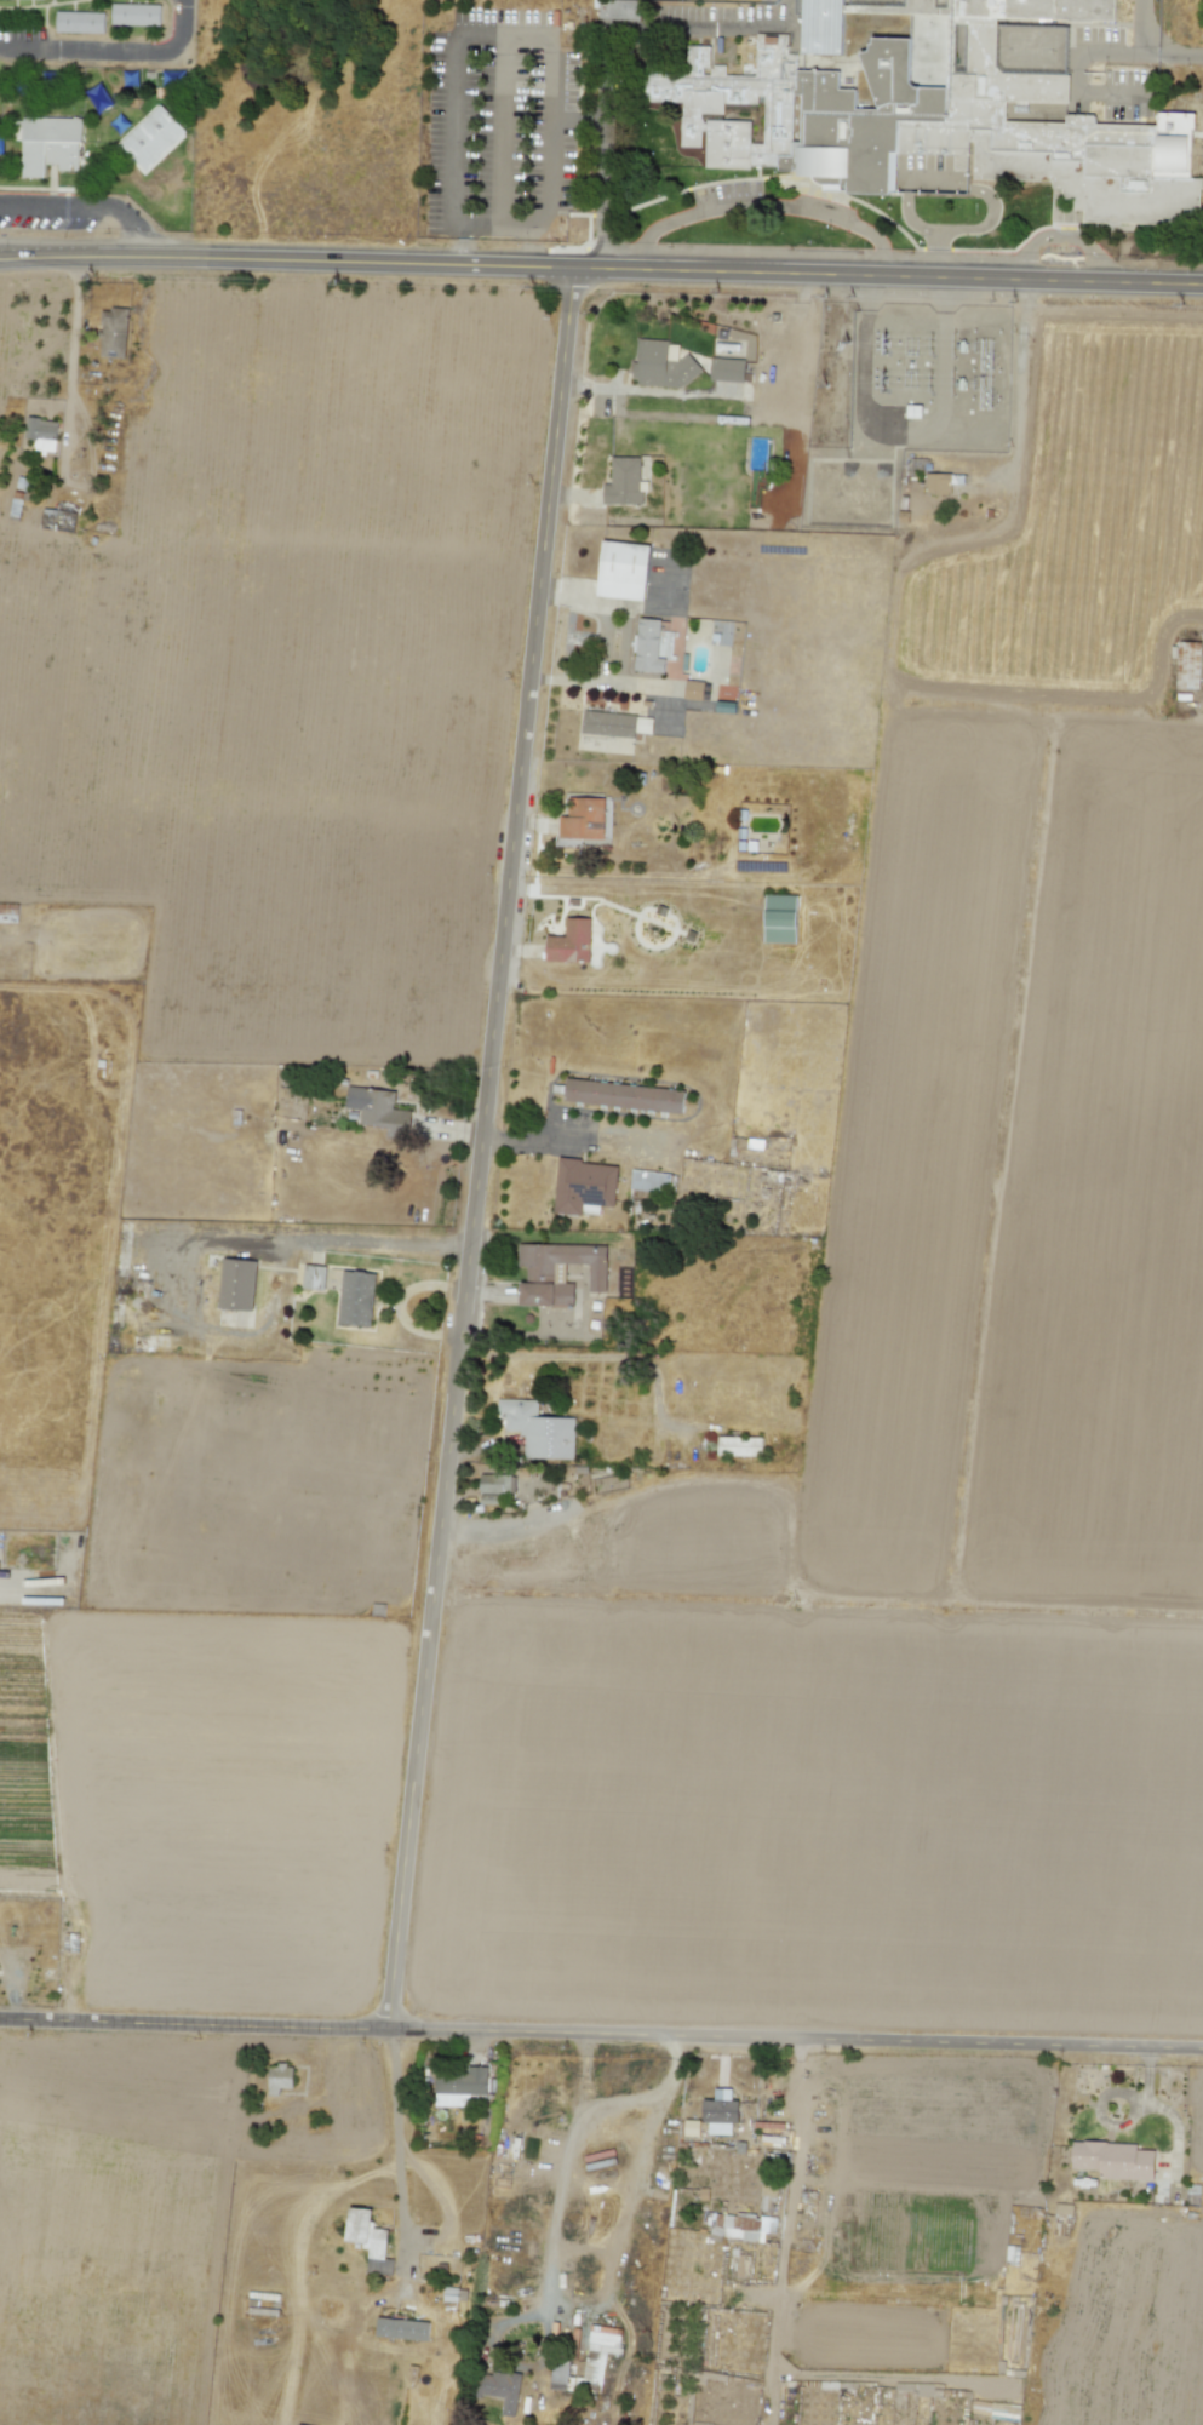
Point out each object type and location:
building: (136, 15)
building: (80, 22)
road: (1139, 28)
road: (115, 51)
road: (1179, 51)
building: (953, 114)
building: (153, 137)
building: (50, 144)
road: (761, 205)
road: (86, 206)
road: (1058, 237)
road: (28, 252)
road: (28, 258)
road: (630, 269)
building: (113, 332)
road: (73, 345)
building: (661, 365)
building: (727, 369)
road: (729, 394)
building: (41, 434)
building: (623, 481)
building: (938, 483)
building: (57, 520)
building: (623, 569)
crop: (282, 629)
road: (605, 646)
building: (651, 647)
building: (1187, 665)
building: (608, 723)
building: (643, 724)
building: (583, 819)
building: (779, 918)
building: (571, 941)
building: (623, 1095)
building: (378, 1110)
road: (528, 1137)
road: (479, 1147)
building: (649, 1181)
building: (583, 1186)
road: (307, 1239)
building: (539, 1274)
building: (313, 1277)
building: (236, 1284)
building: (355, 1299)
building: (538, 1429)
building: (739, 1446)
building: (494, 1486)
road: (489, 1533)
road: (601, 2033)
building: (279, 2077)
building: (460, 2086)
building: (720, 2111)
building: (691, 2127)
road: (397, 2136)
building: (1113, 2160)
road: (796, 2168)
road: (562, 2173)
building: (767, 2196)
building: (738, 2226)
building: (365, 2232)
building: (378, 2265)
building: (401, 2328)
building: (598, 2352)
building: (558, 2375)
building: (498, 2389)

